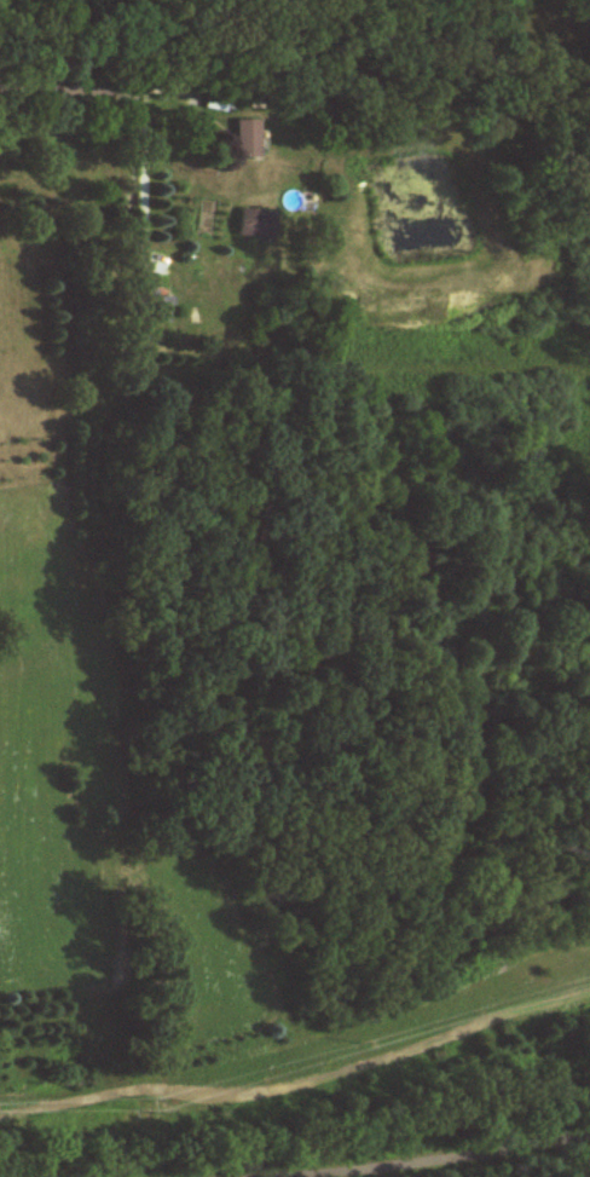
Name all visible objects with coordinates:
road: (69, 92)
building: (214, 102)
building: (244, 139)
road: (141, 172)
building: (256, 224)
building: (157, 311)
road: (503, 1159)

